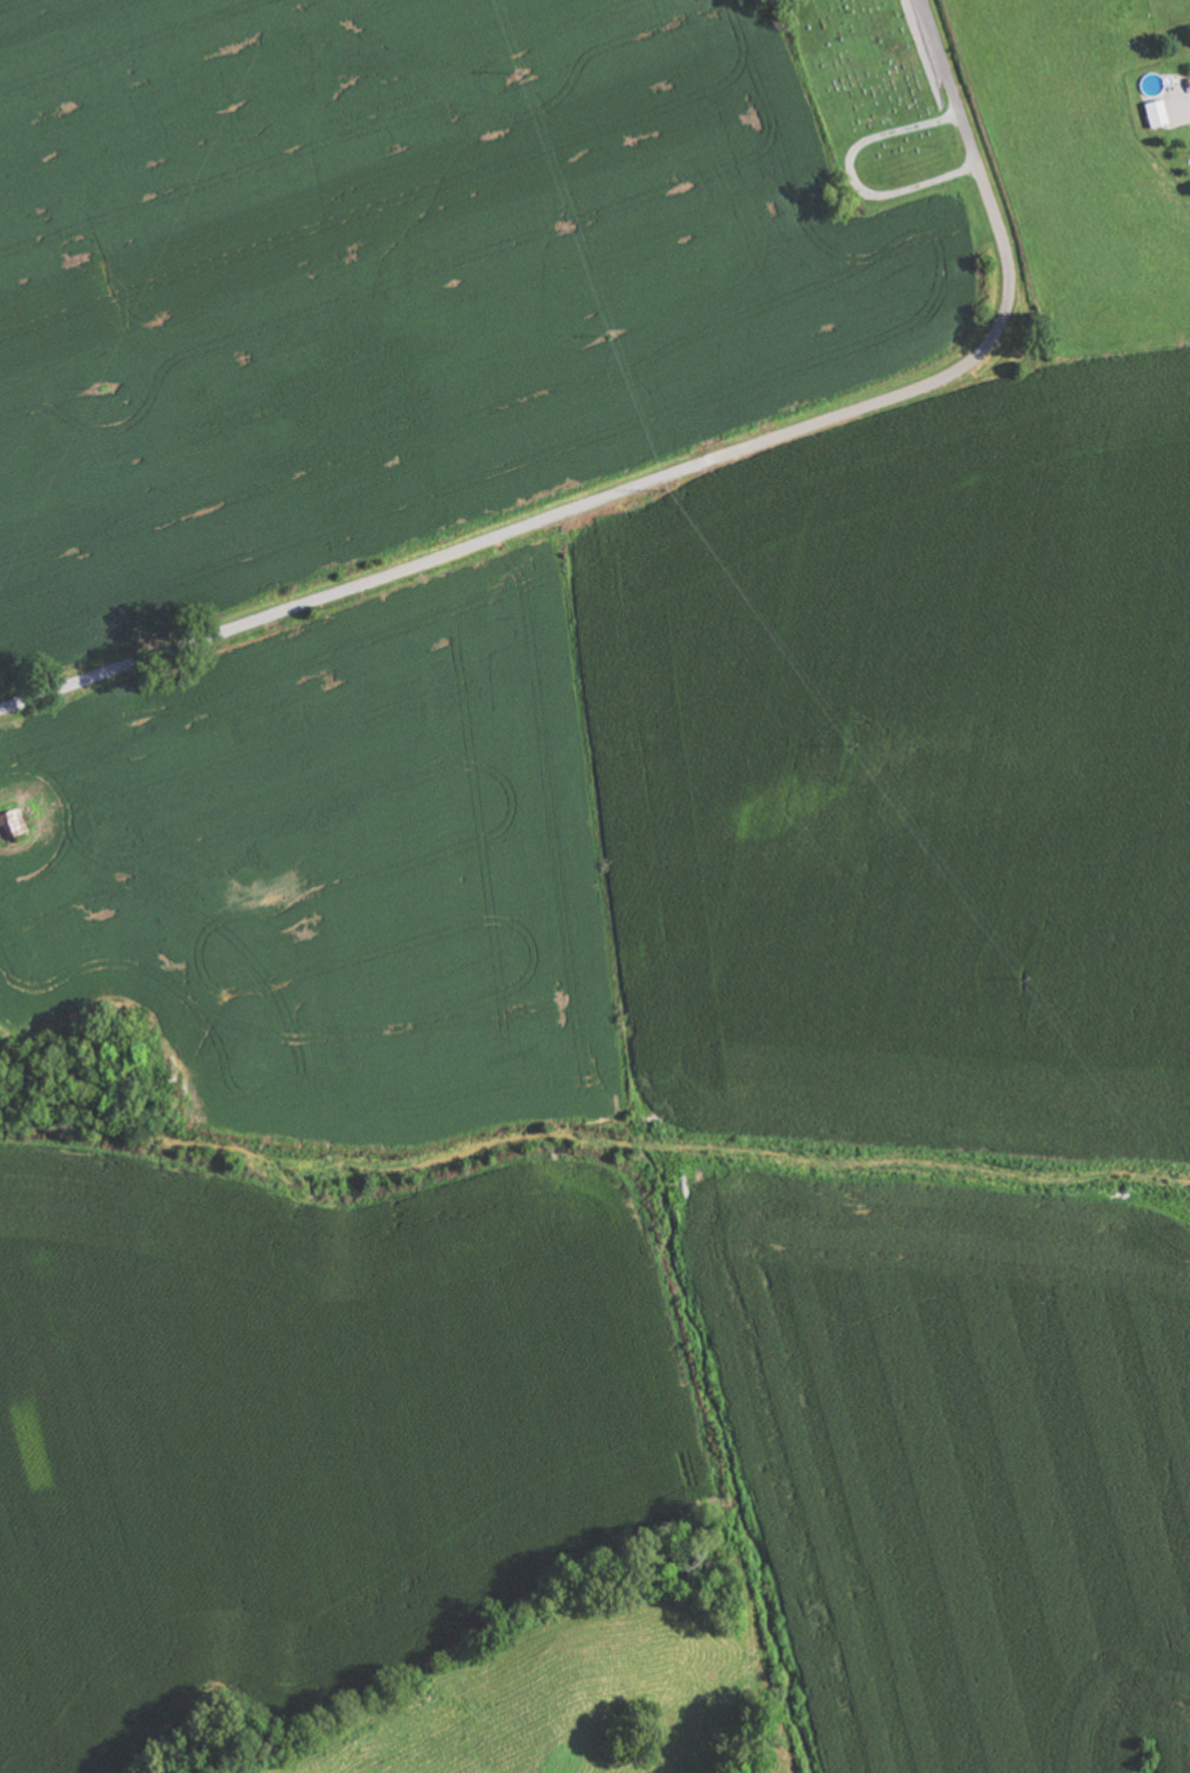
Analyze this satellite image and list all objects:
park: (874, 101)
building: (1155, 116)
road: (669, 476)

